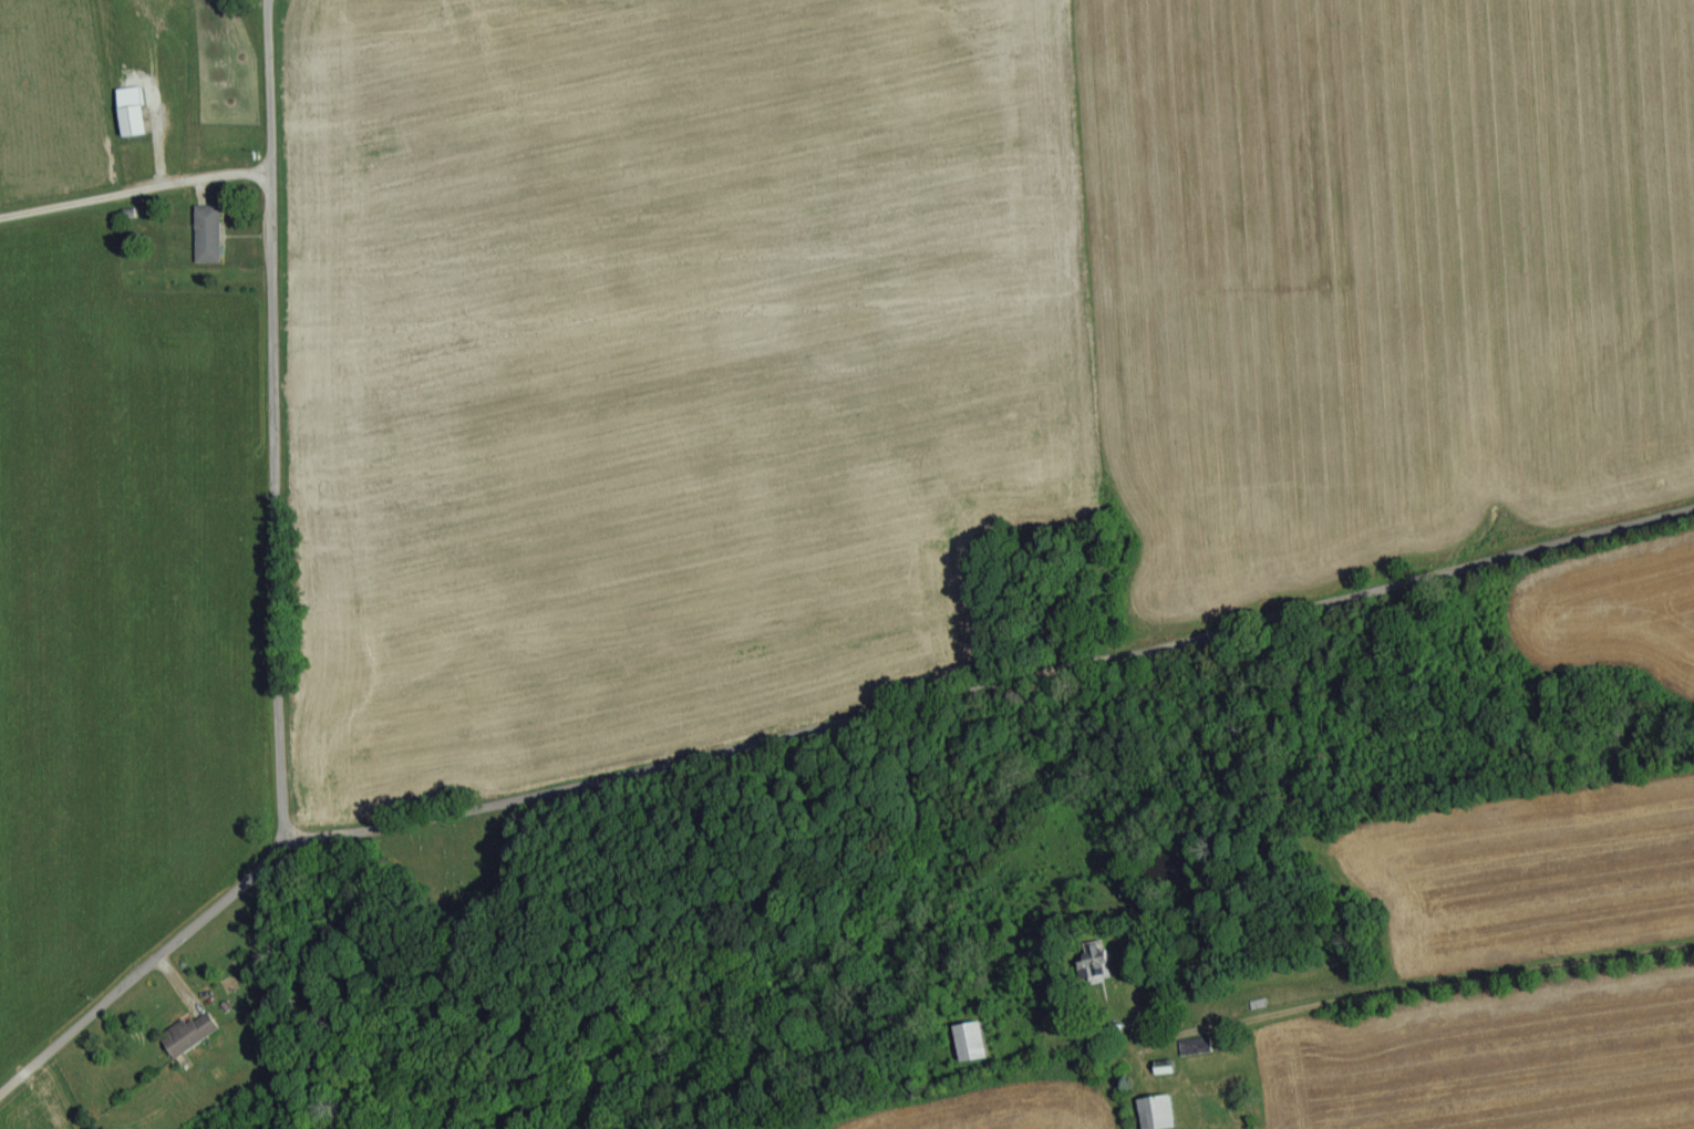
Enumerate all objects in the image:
building: (130, 122)
road: (135, 191)
building: (205, 235)
crop: (494, 415)
road: (272, 610)
road: (989, 698)
road: (1417, 992)
building: (186, 1035)
building: (969, 1042)
building: (1192, 1046)
building: (1154, 1112)

